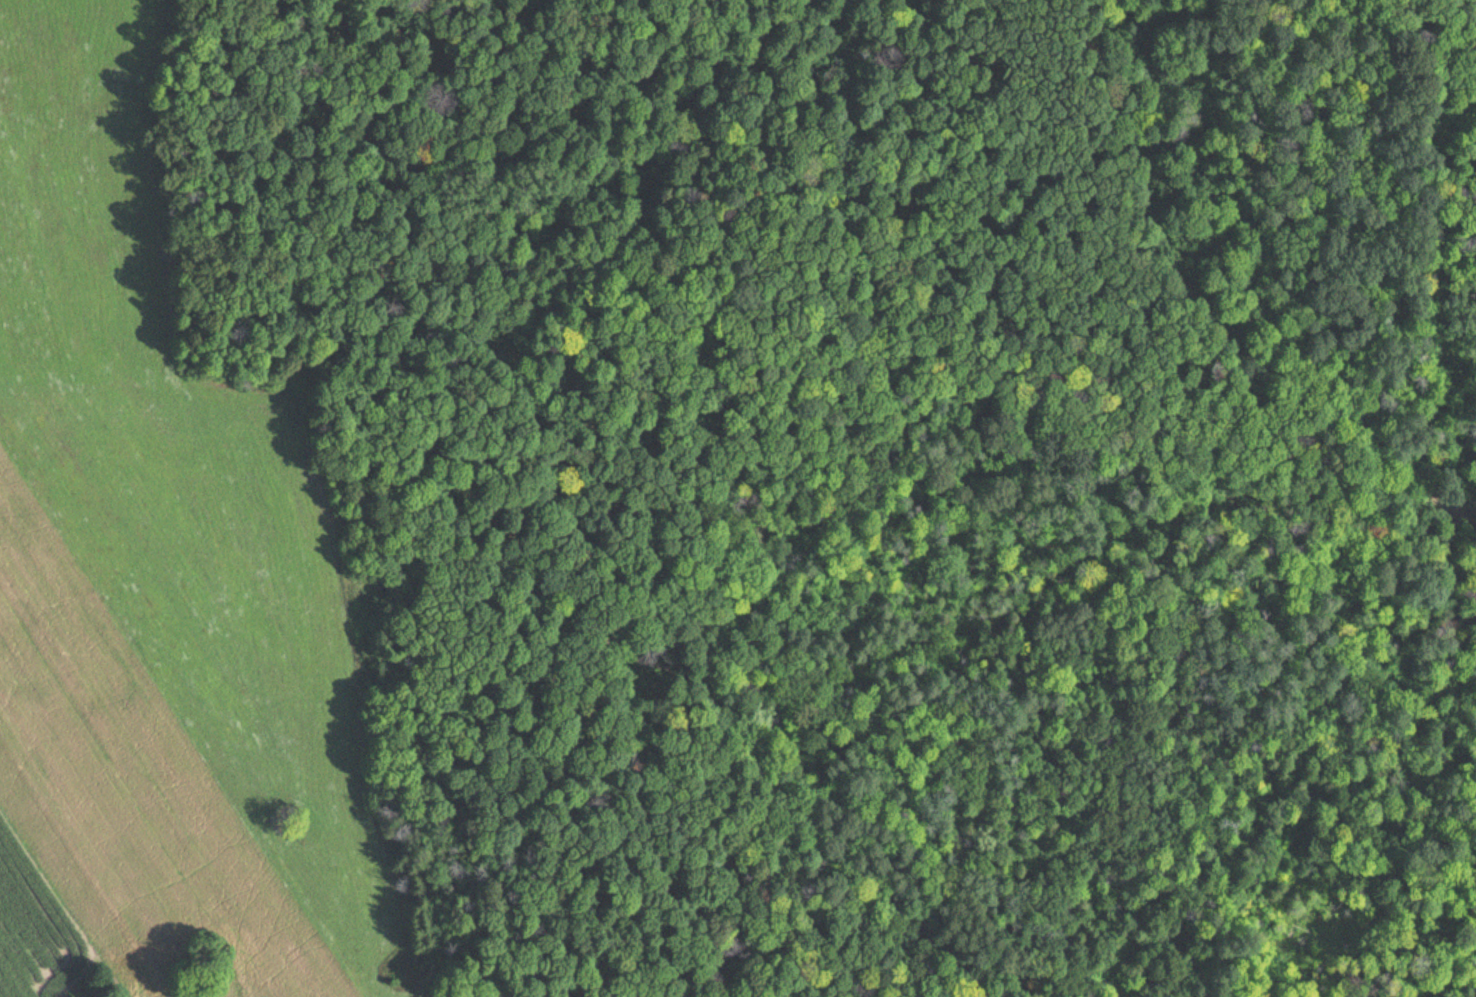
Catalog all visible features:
road: (1208, 311)

